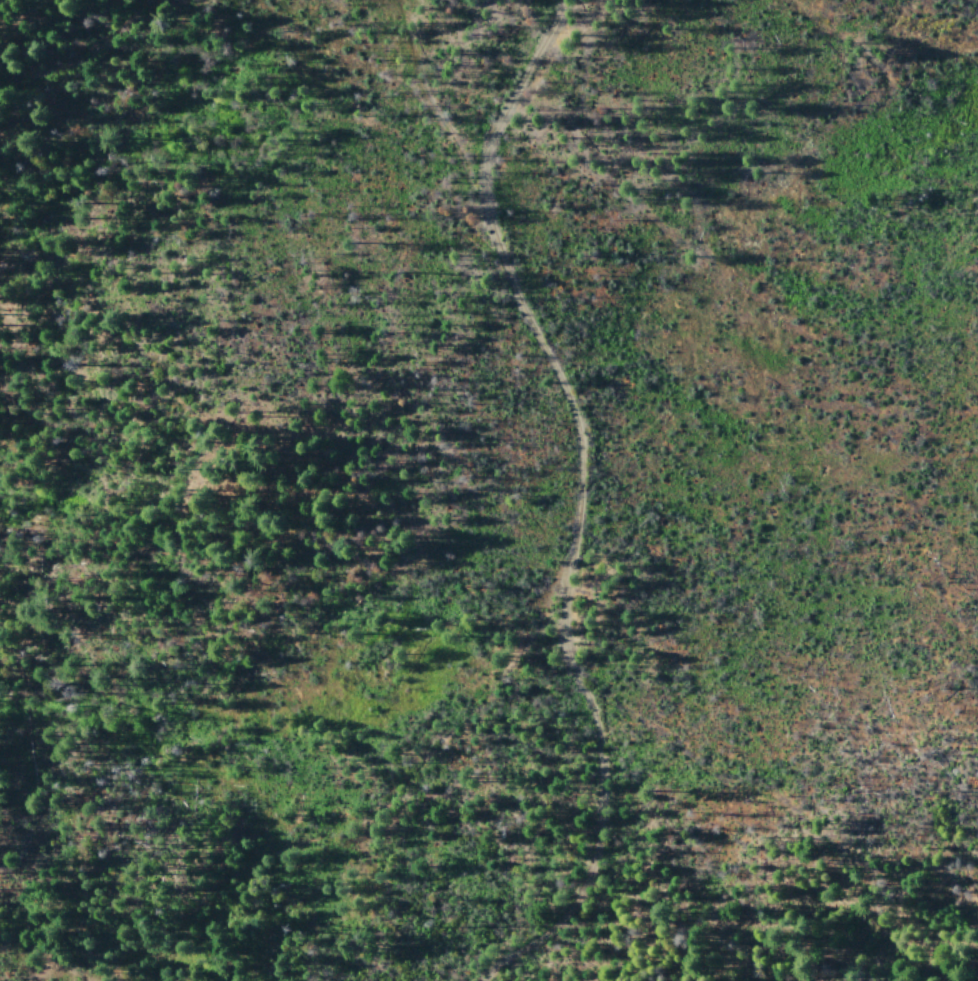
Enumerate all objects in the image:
road: (576, 493)

